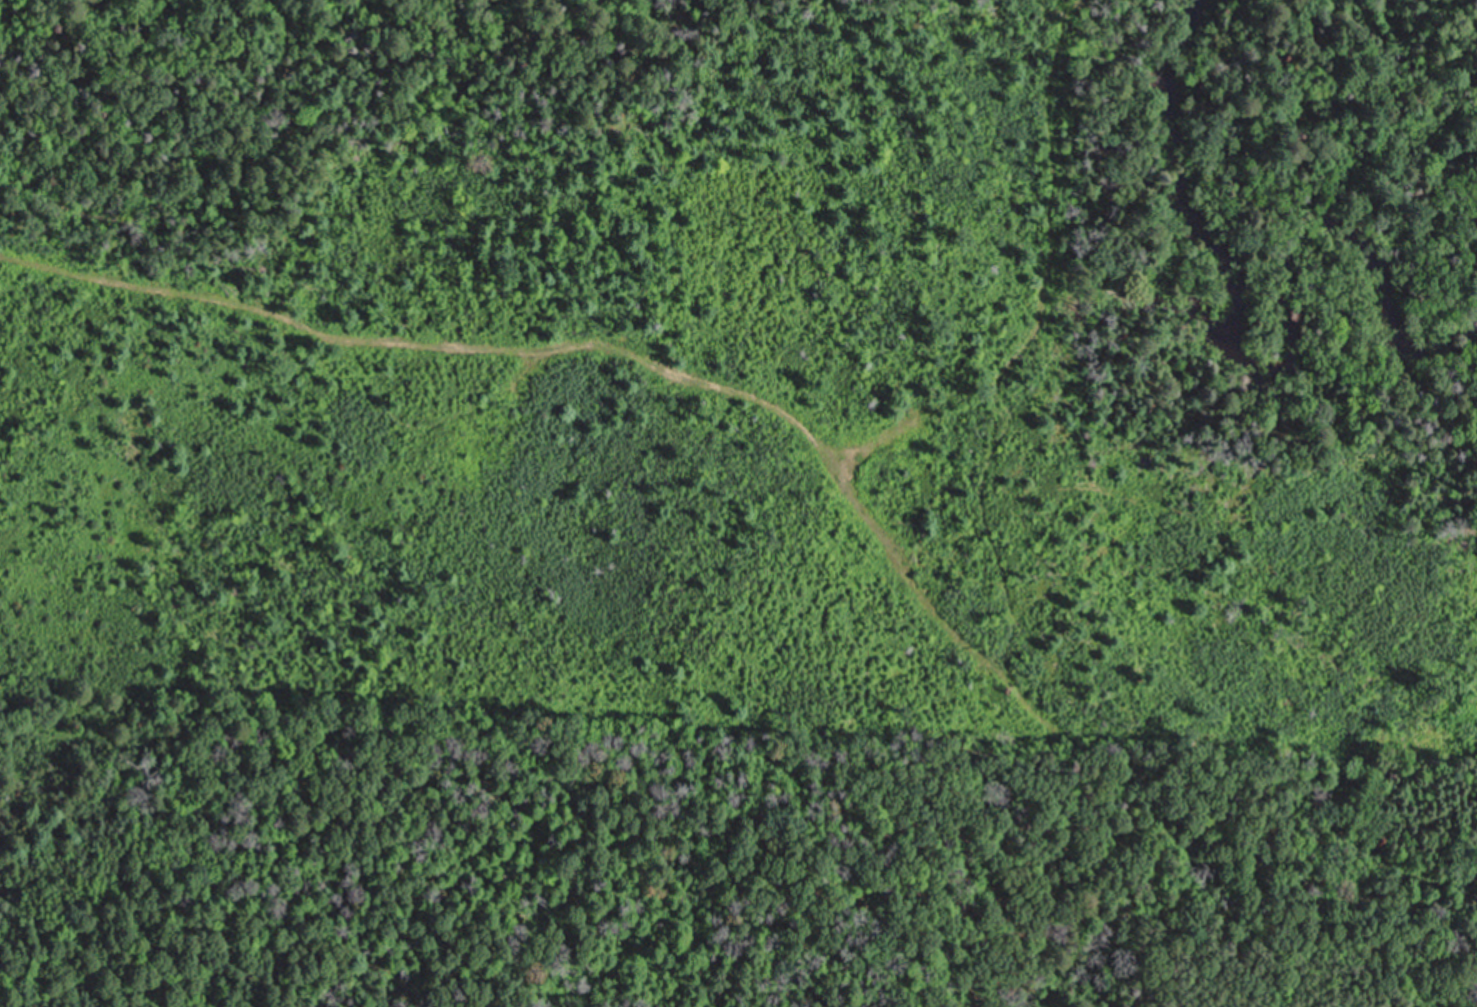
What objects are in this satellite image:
park: (858, 13)
river: (1342, 111)

